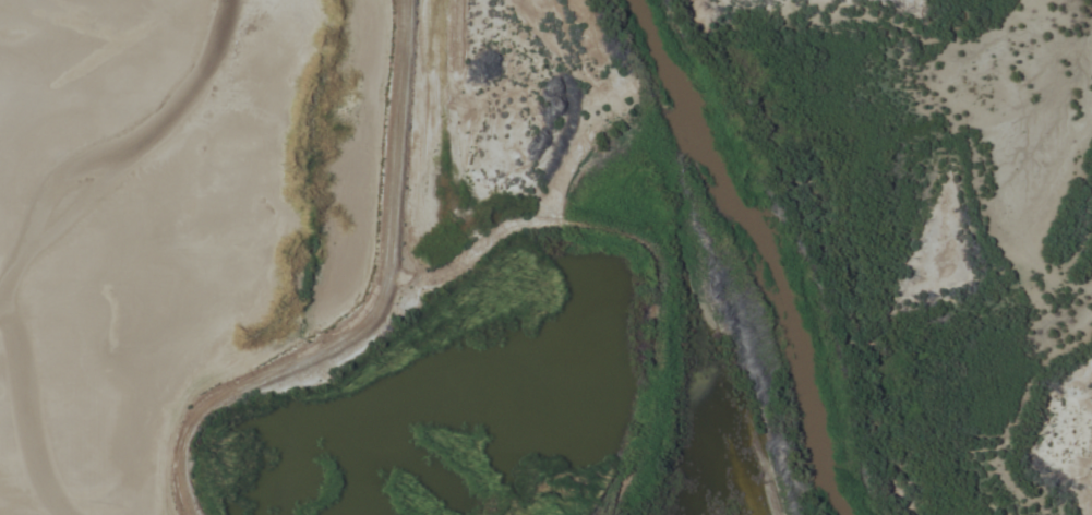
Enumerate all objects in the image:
river: (729, 257)

